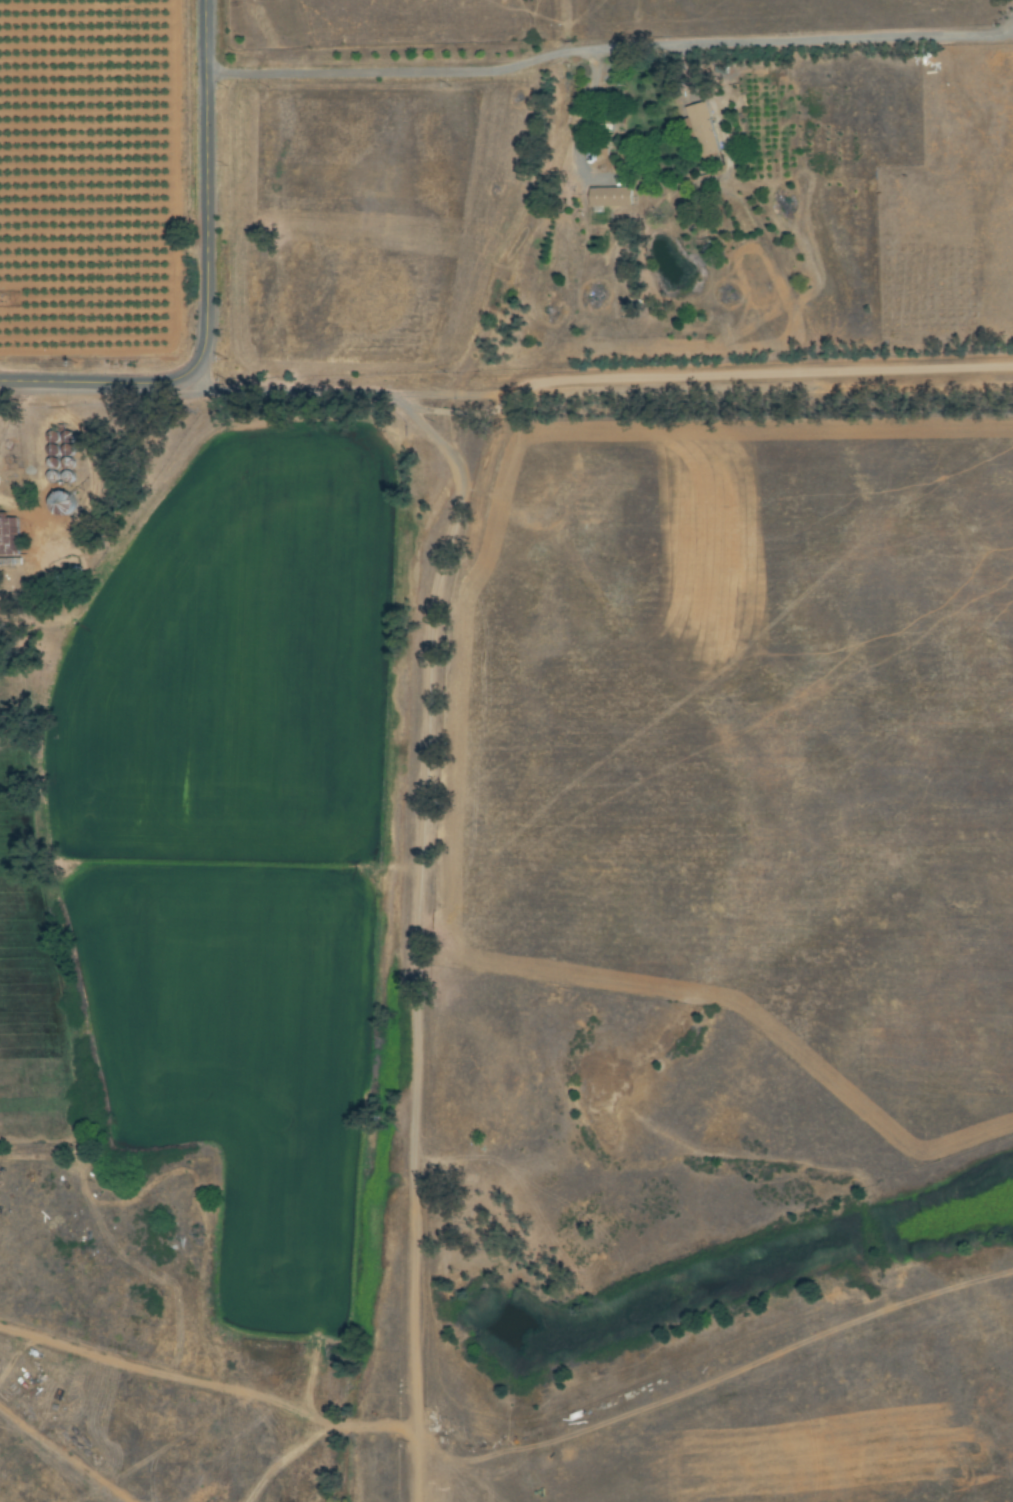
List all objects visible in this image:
road: (608, 56)
building: (703, 131)
building: (611, 197)
road: (204, 284)
road: (680, 386)
road: (300, 388)
building: (9, 536)
road: (432, 908)
road: (715, 1345)
road: (213, 1385)
road: (425, 1434)

